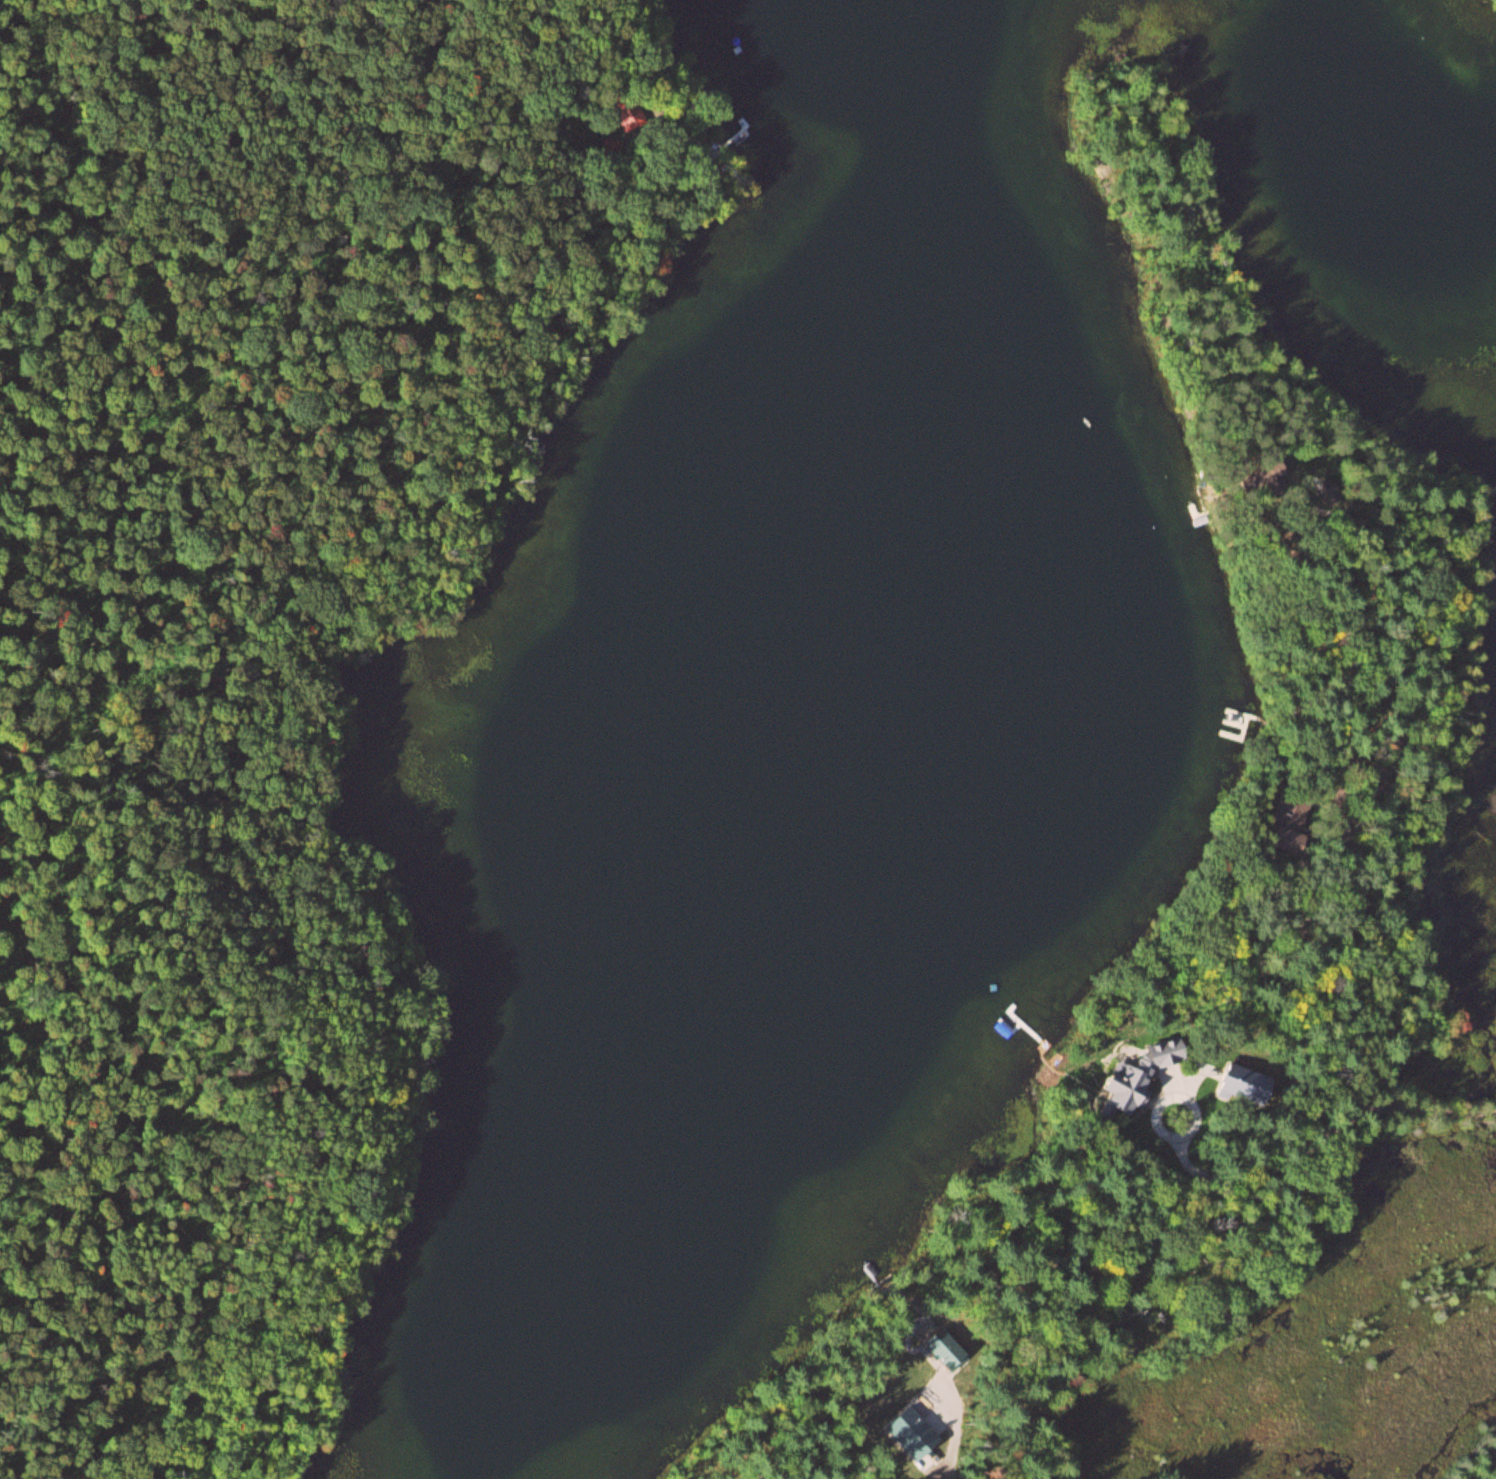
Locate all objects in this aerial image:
road: (515, 4)
building: (626, 113)
road: (99, 327)
building: (1260, 473)
building: (1327, 490)
building: (1192, 517)
road: (1457, 639)
building: (1286, 822)
building: (1242, 1082)
road: (63, 1097)

